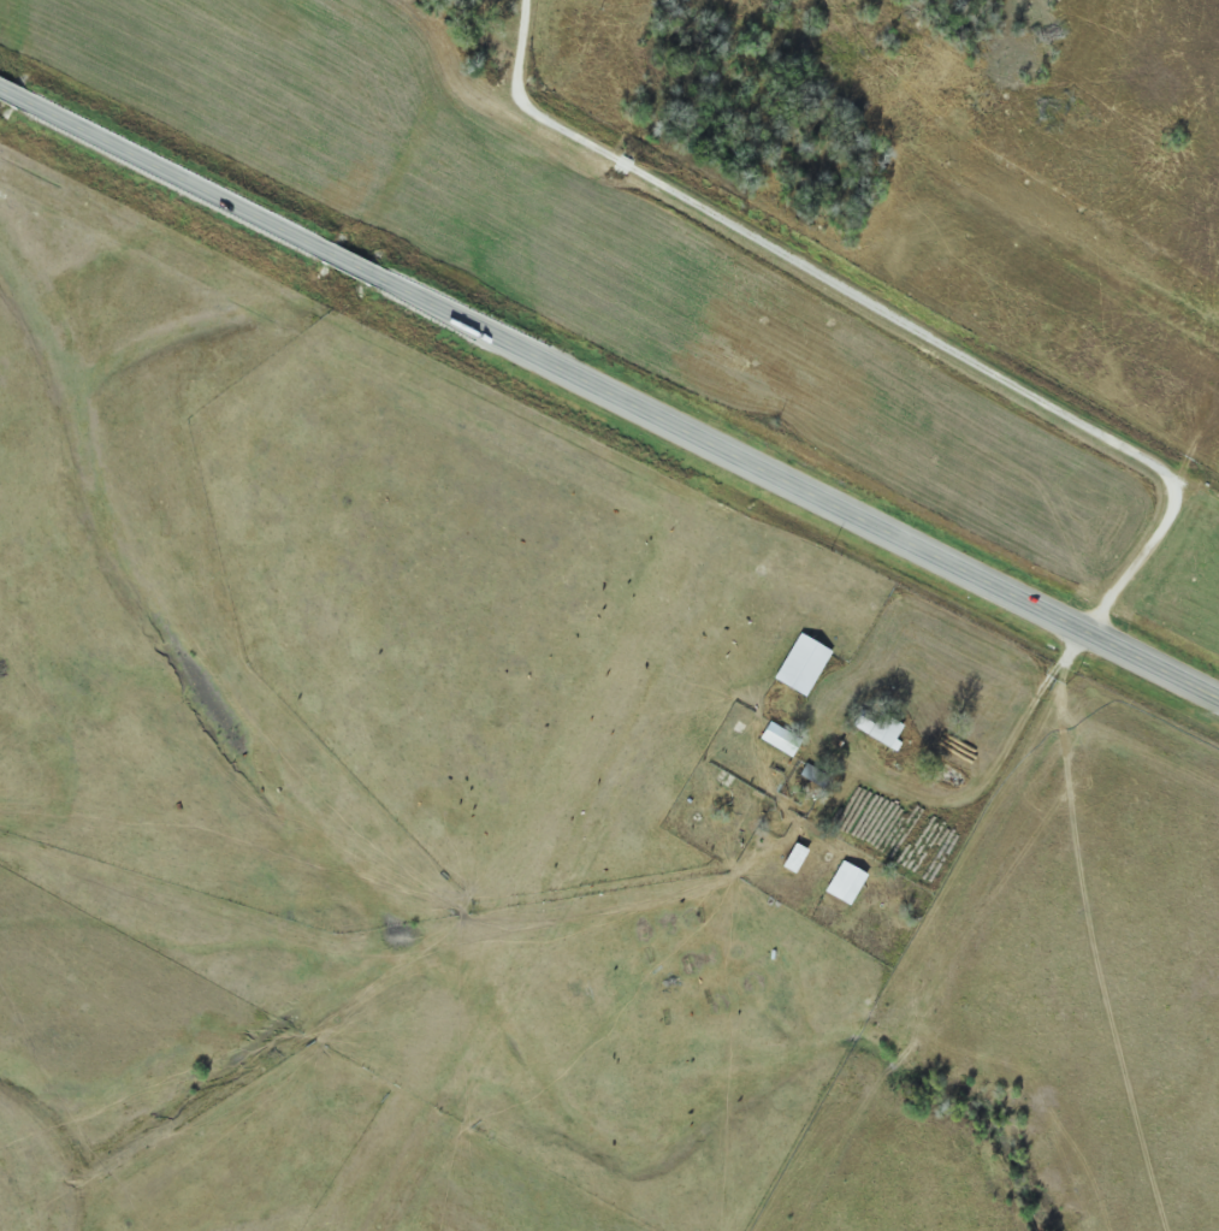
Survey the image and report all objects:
road: (875, 308)
road: (609, 391)
building: (805, 663)
building: (883, 728)
building: (782, 739)
building: (848, 881)

